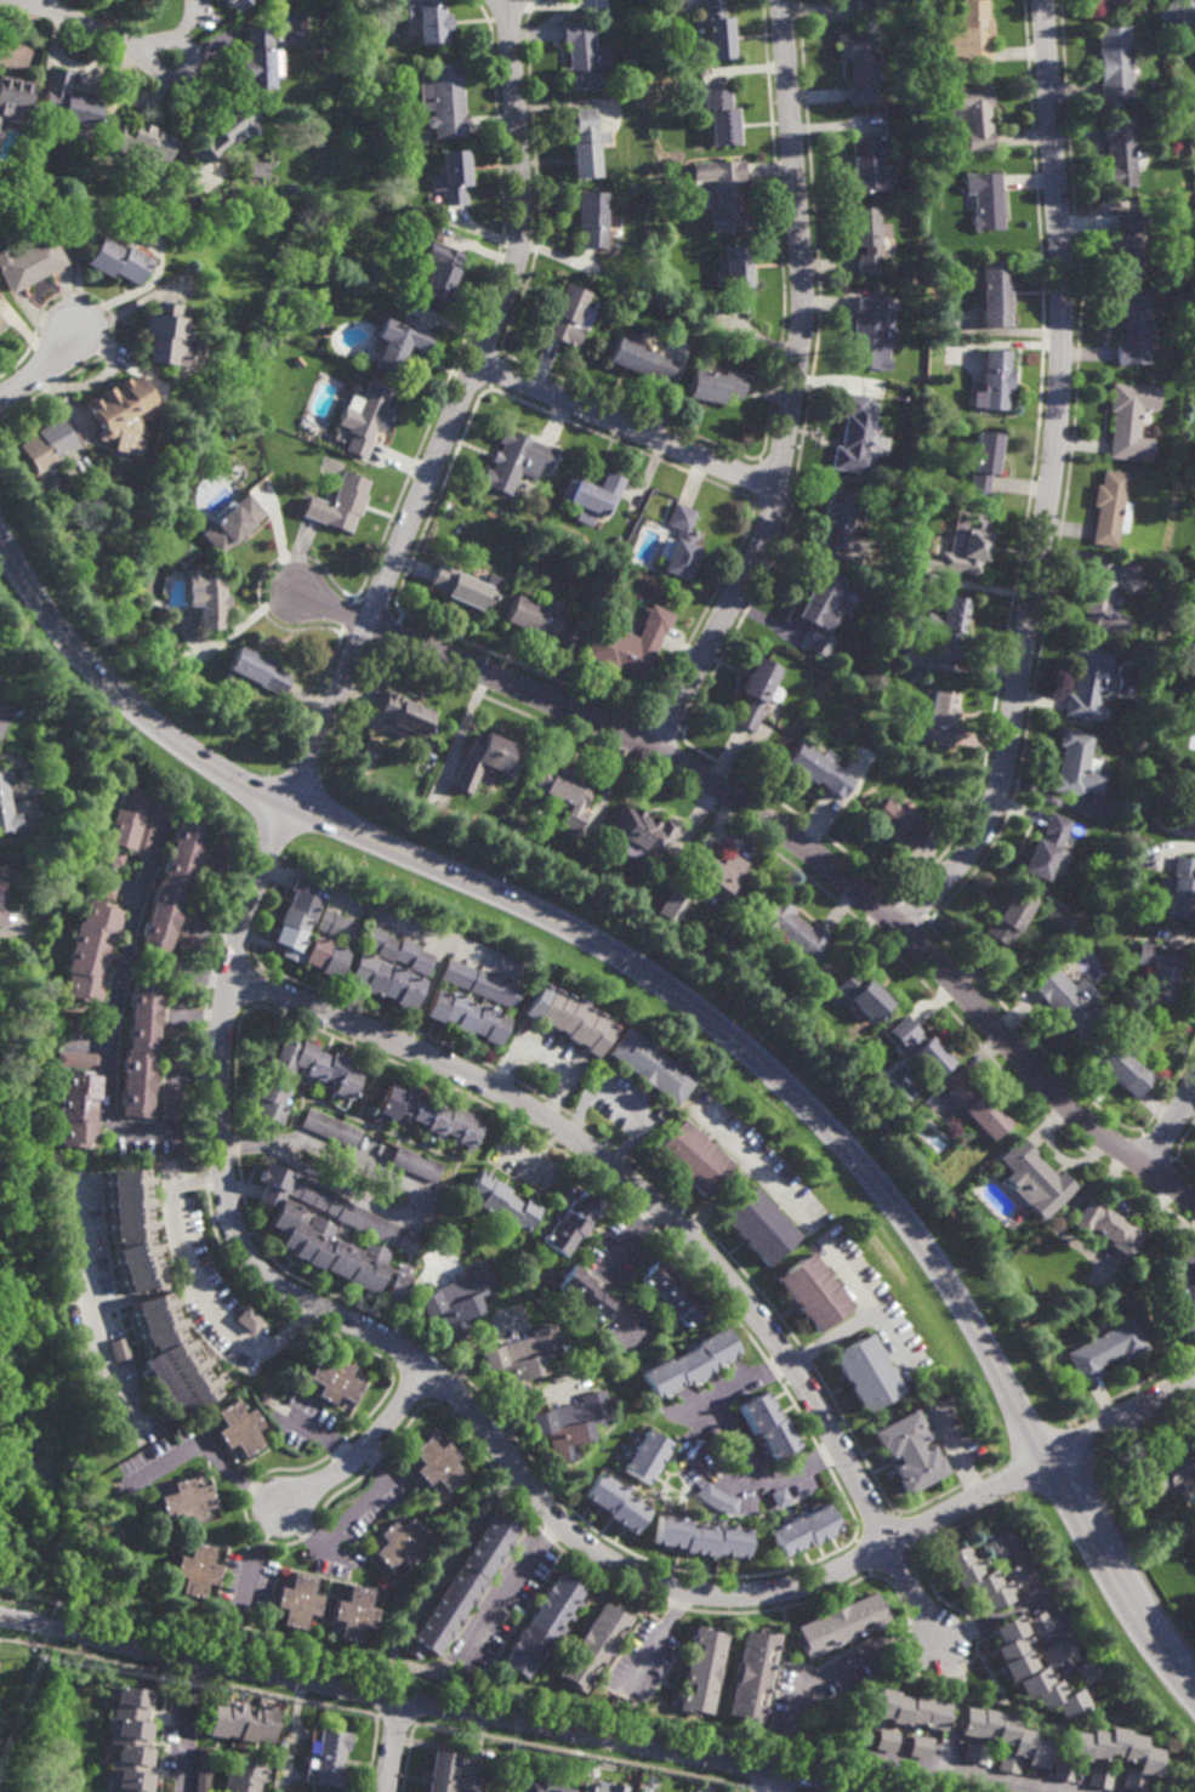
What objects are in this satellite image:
road: (35, 2)
building: (1110, 2)
building: (233, 4)
building: (874, 7)
building: (1184, 13)
building: (428, 21)
road: (80, 22)
building: (718, 32)
building: (968, 36)
road: (169, 39)
building: (582, 57)
building: (1194, 57)
building: (254, 61)
building: (1115, 63)
building: (860, 66)
building: (13, 99)
building: (444, 101)
building: (67, 103)
building: (654, 106)
building: (973, 115)
building: (721, 118)
building: (0, 129)
building: (222, 131)
building: (138, 141)
building: (586, 144)
building: (1120, 153)
building: (869, 163)
building: (254, 170)
building: (453, 178)
building: (899, 189)
building: (724, 195)
building: (984, 200)
building: (591, 220)
building: (867, 240)
building: (1127, 246)
building: (30, 263)
building: (112, 263)
building: (437, 272)
building: (735, 278)
building: (995, 295)
building: (1, 307)
building: (311, 307)
building: (567, 318)
building: (1, 328)
building: (1133, 328)
building: (871, 336)
building: (160, 339)
building: (397, 346)
building: (639, 360)
road: (39, 366)
building: (992, 383)
road: (793, 388)
building: (715, 389)
road: (455, 413)
building: (118, 416)
building: (364, 421)
building: (1128, 422)
road: (628, 427)
building: (857, 436)
building: (45, 444)
building: (981, 461)
building: (514, 462)
road: (1051, 483)
building: (592, 494)
building: (336, 501)
building: (1108, 506)
building: (842, 516)
building: (229, 520)
building: (682, 541)
building: (968, 546)
building: (1194, 568)
building: (465, 585)
building: (204, 597)
building: (1102, 599)
building: (826, 607)
building: (533, 615)
building: (948, 625)
building: (627, 639)
building: (252, 670)
building: (1088, 679)
building: (758, 693)
building: (1191, 699)
building: (403, 712)
building: (937, 718)
building: (485, 761)
building: (1076, 766)
building: (819, 770)
building: (563, 792)
building: (1190, 801)
building: (6, 806)
building: (132, 823)
building: (527, 824)
building: (898, 825)
building: (642, 831)
road: (785, 831)
building: (222, 846)
building: (1045, 848)
building: (109, 855)
building: (597, 855)
building: (724, 877)
building: (170, 886)
building: (99, 889)
building: (1178, 891)
building: (1, 900)
building: (671, 906)
building: (197, 909)
building: (1009, 916)
building: (296, 921)
building: (338, 927)
building: (1122, 927)
building: (792, 931)
road: (126, 943)
building: (188, 944)
building: (397, 951)
building: (90, 954)
building: (326, 958)
building: (1160, 969)
building: (386, 982)
building: (480, 984)
building: (864, 997)
building: (176, 1001)
building: (1071, 1003)
road: (695, 1007)
building: (468, 1018)
building: (570, 1022)
building: (80, 1026)
building: (921, 1048)
building: (137, 1053)
road: (546, 1058)
building: (78, 1062)
building: (172, 1064)
building: (318, 1069)
building: (651, 1069)
building: (1123, 1069)
road: (109, 1070)
building: (171, 1098)
road: (618, 1099)
building: (269, 1104)
building: (978, 1110)
building: (78, 1111)
building: (170, 1115)
building: (429, 1117)
road: (1171, 1127)
building: (330, 1130)
building: (694, 1160)
building: (416, 1164)
road: (752, 1165)
building: (1034, 1181)
road: (404, 1184)
building: (1023, 1195)
road: (718, 1197)
building: (501, 1205)
road: (672, 1219)
building: (571, 1227)
building: (761, 1228)
building: (1108, 1228)
building: (133, 1230)
building: (305, 1234)
road: (614, 1268)
road: (199, 1286)
building: (1161, 1288)
building: (1183, 1290)
building: (647, 1291)
building: (671, 1291)
building: (585, 1292)
building: (813, 1292)
road: (89, 1298)
building: (564, 1298)
building: (459, 1299)
building: (656, 1302)
road: (870, 1310)
building: (582, 1316)
building: (247, 1319)
building: (672, 1321)
road: (830, 1337)
building: (1104, 1348)
building: (175, 1352)
building: (522, 1359)
building: (689, 1364)
road: (108, 1369)
building: (866, 1371)
building: (144, 1372)
building: (335, 1381)
building: (157, 1392)
road: (528, 1407)
building: (169, 1410)
building: (570, 1423)
building: (767, 1423)
building: (239, 1428)
building: (635, 1439)
road: (364, 1445)
road: (207, 1449)
road: (948, 1449)
building: (907, 1450)
road: (505, 1452)
building: (626, 1453)
building: (645, 1456)
road: (700, 1462)
building: (437, 1464)
building: (1168, 1469)
road: (366, 1496)
building: (779, 1497)
building: (716, 1498)
building: (184, 1501)
building: (614, 1502)
building: (806, 1529)
road: (311, 1536)
building: (701, 1537)
building: (400, 1544)
building: (992, 1548)
road: (255, 1549)
building: (195, 1571)
building: (979, 1576)
building: (461, 1588)
building: (298, 1603)
building: (355, 1615)
road: (990, 1619)
road: (21, 1622)
building: (843, 1623)
building: (1040, 1625)
building: (542, 1626)
road: (53, 1629)
building: (593, 1646)
building: (1054, 1655)
road: (400, 1662)
road: (846, 1662)
building: (704, 1671)
building: (1032, 1671)
building: (1089, 1672)
building: (755, 1676)
building: (910, 1708)
road: (471, 1713)
building: (240, 1722)
road: (183, 1724)
building: (1006, 1739)
building: (129, 1741)
building: (888, 1741)
road: (393, 1746)
building: (918, 1747)
road: (949, 1748)
building: (1117, 1753)
building: (973, 1754)
building: (329, 1759)
building: (203, 1770)
building: (1064, 1771)
building: (449, 1775)
building: (243, 1776)
building: (1100, 1777)
road: (763, 1781)
road: (1006, 1781)
road: (780, 1782)
building: (278, 1786)
building: (541, 1787)
building: (603, 1788)
road: (871, 1791)

